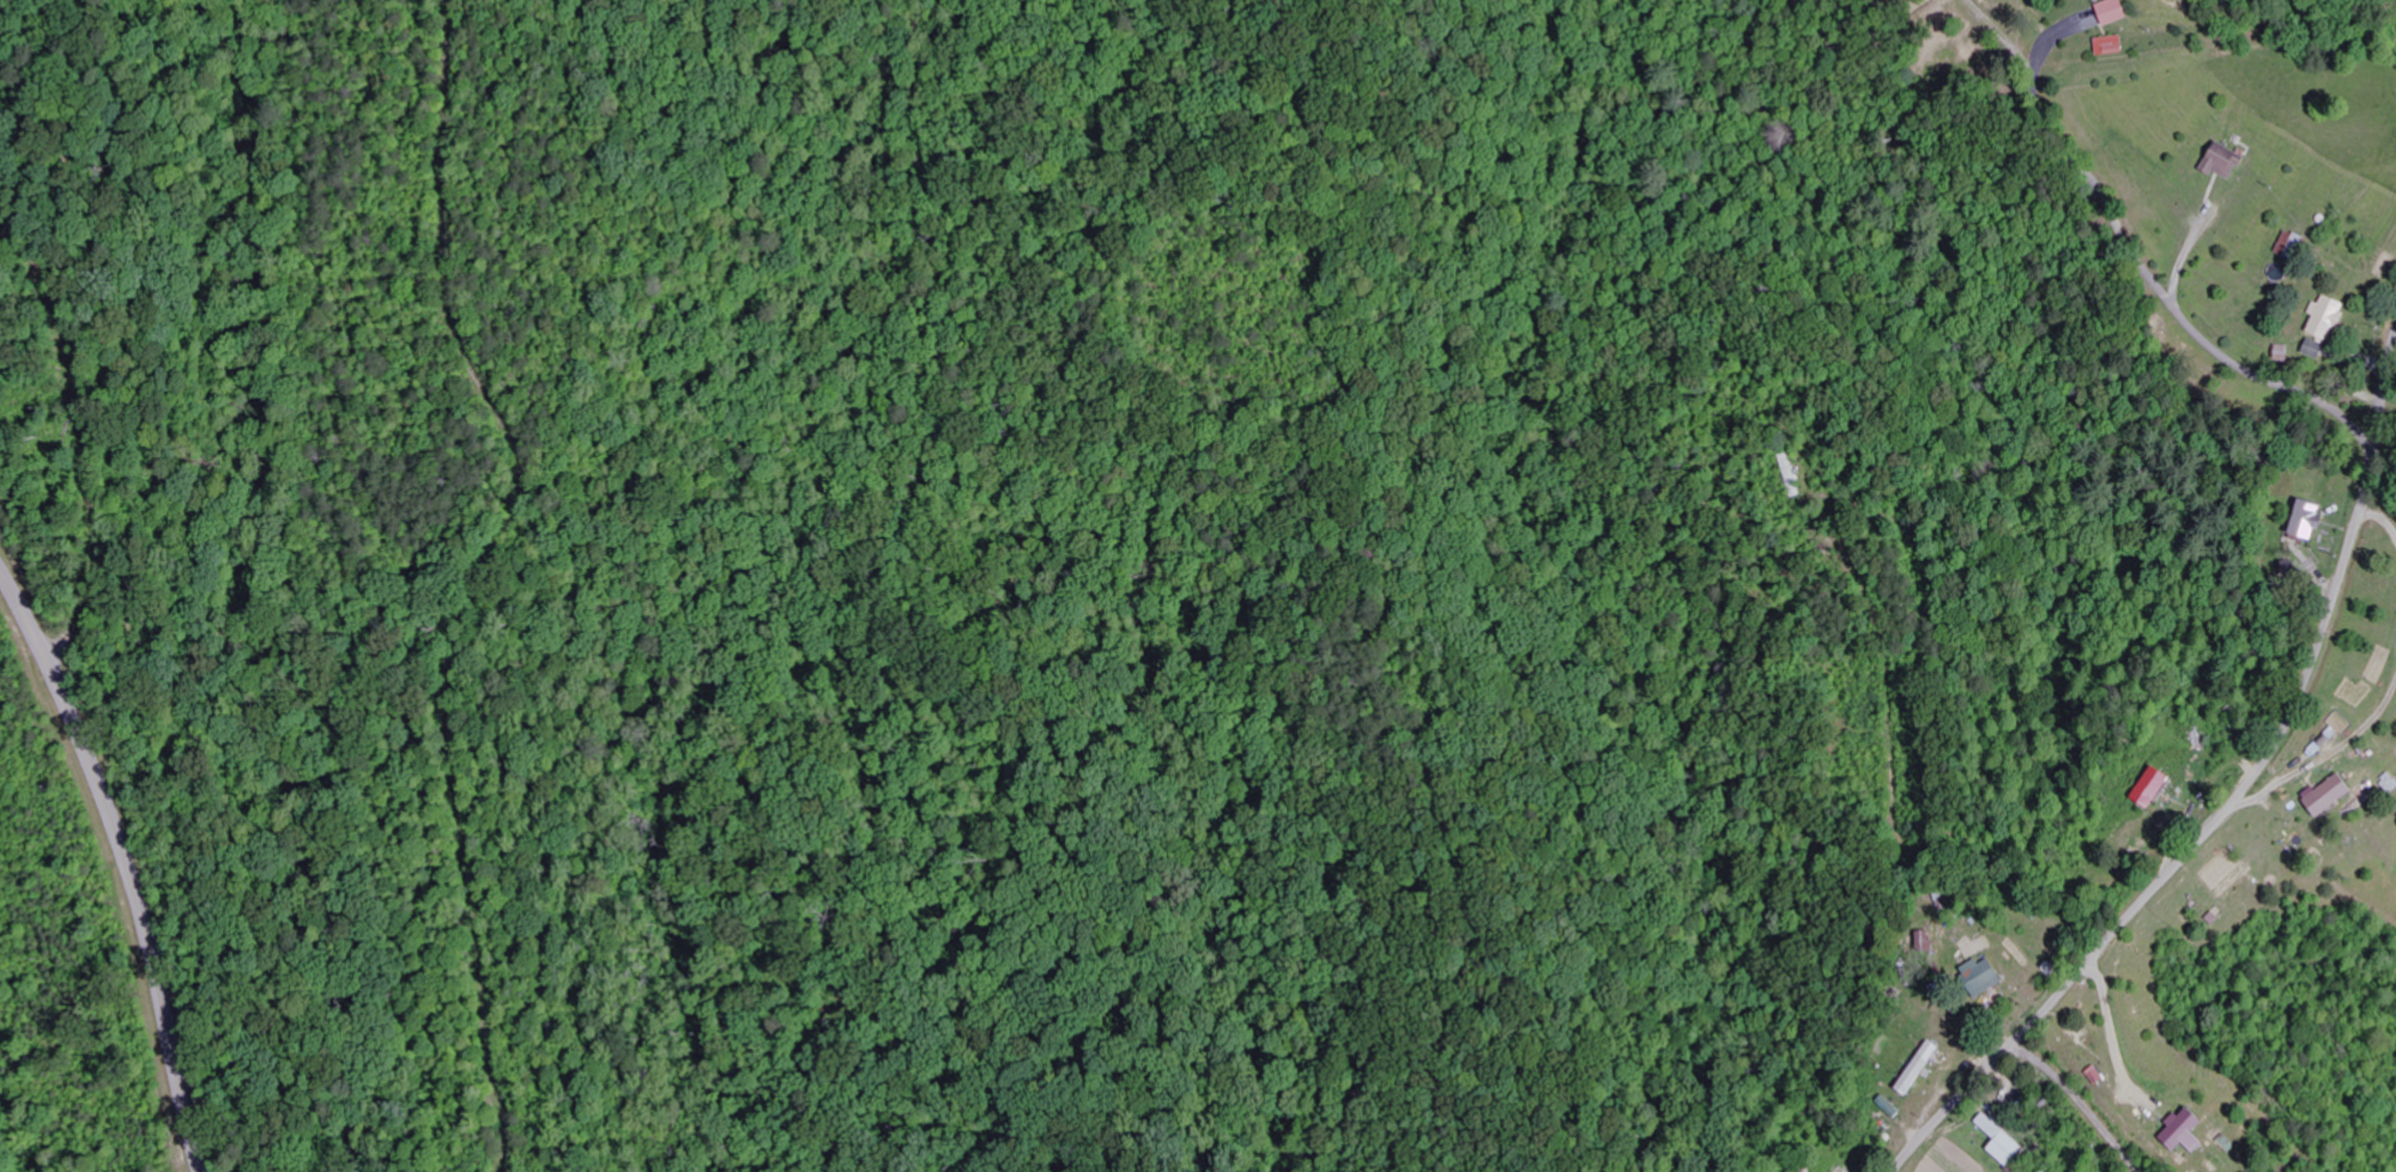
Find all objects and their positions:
building: (2116, 11)
building: (2113, 44)
building: (2226, 160)
building: (2293, 244)
road: (2165, 293)
building: (2330, 316)
building: (2318, 350)
building: (2312, 518)
building: (2155, 787)
building: (2333, 795)
road: (2233, 803)
road: (127, 863)
building: (1987, 976)
building: (1922, 1067)
road: (2113, 1094)
building: (2188, 1131)
building: (2004, 1140)

